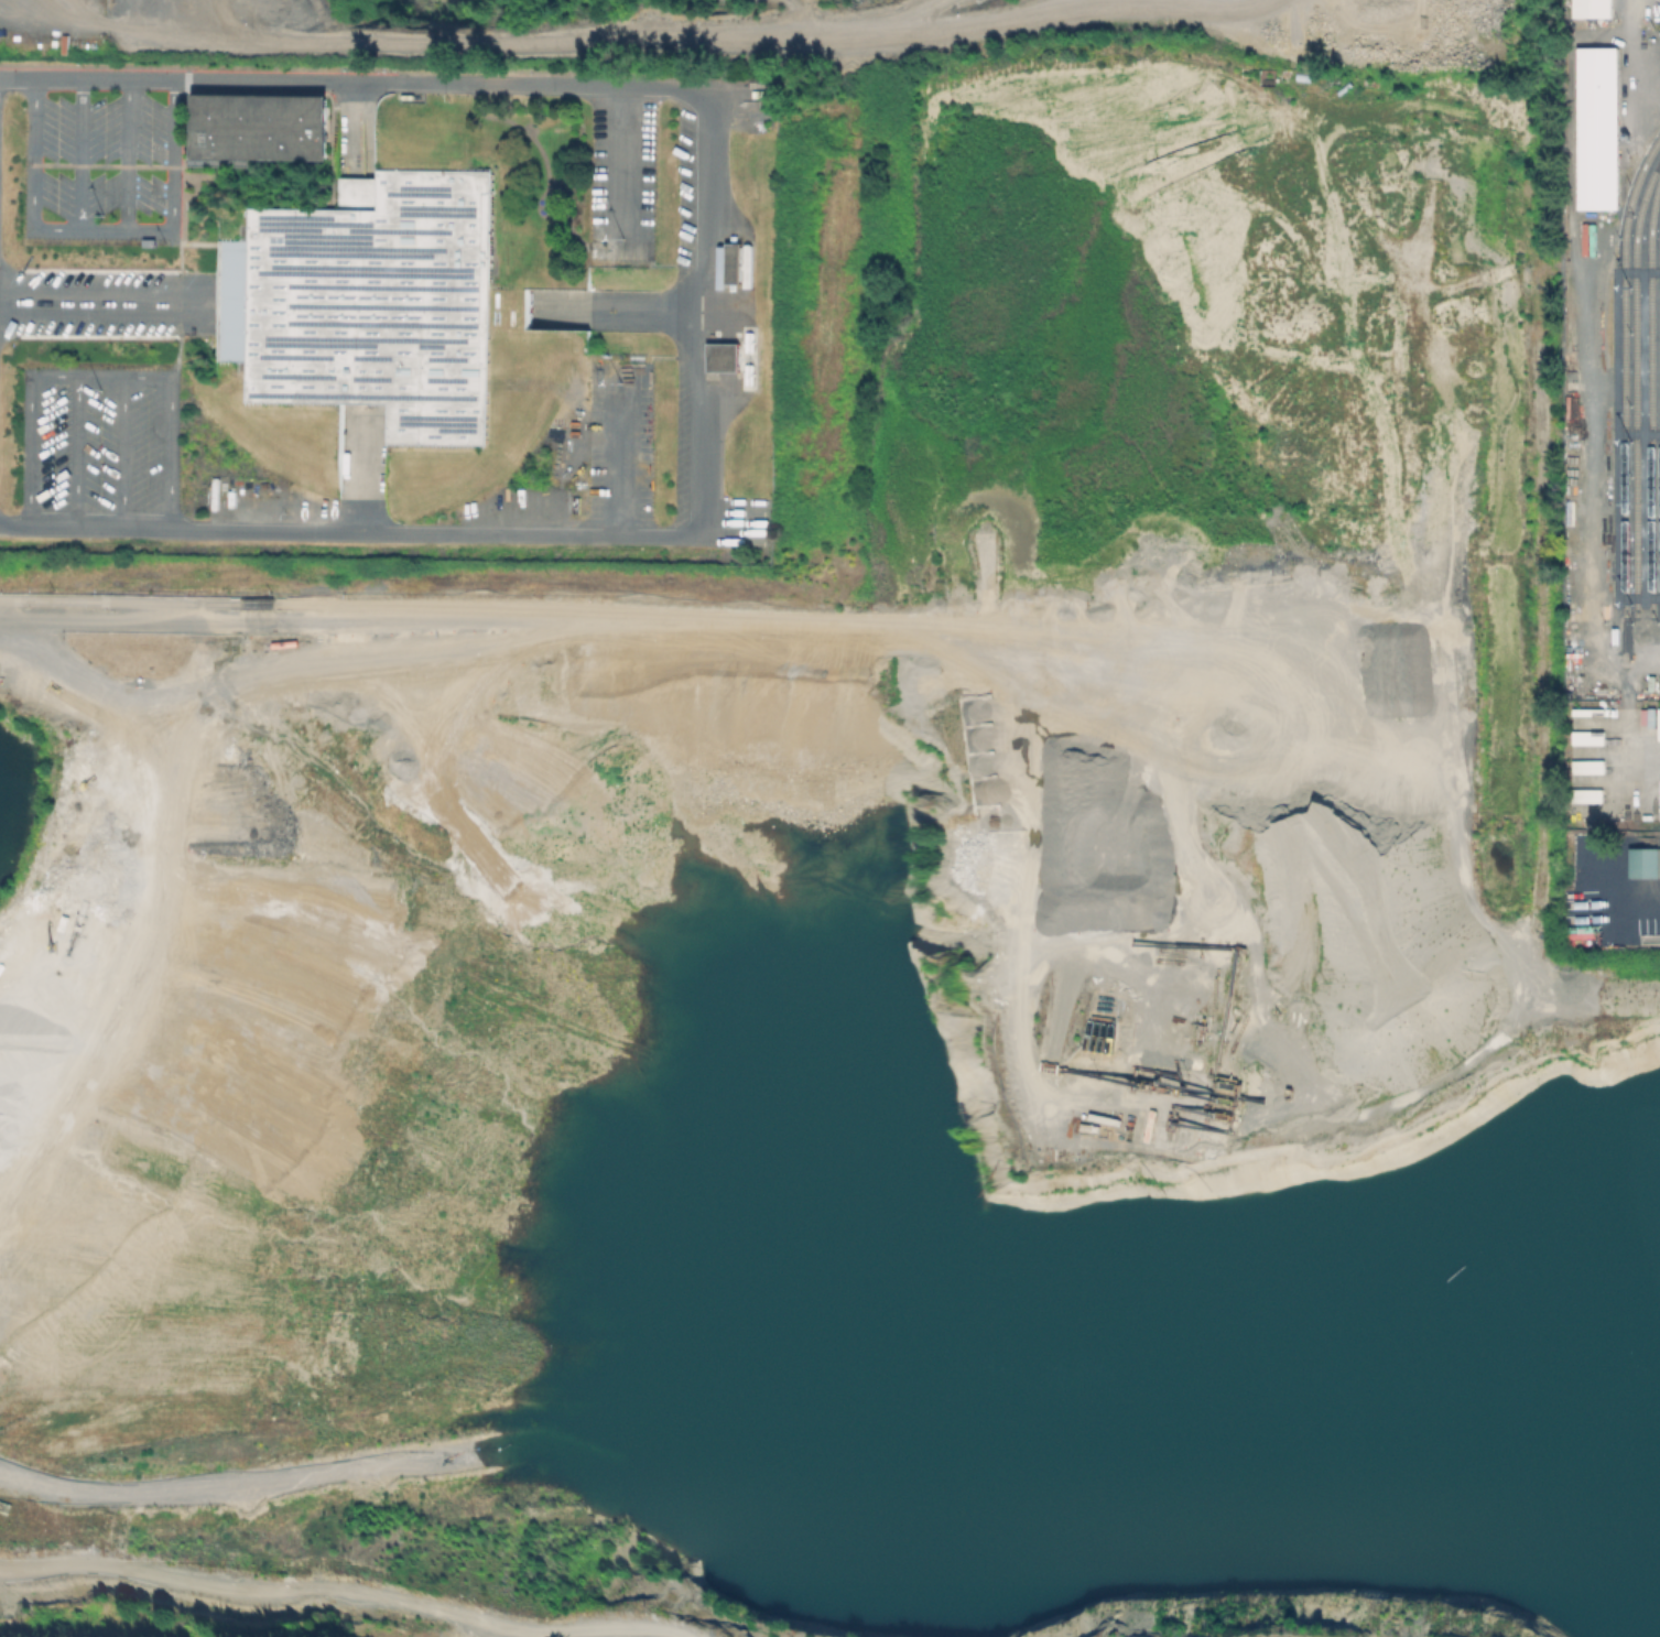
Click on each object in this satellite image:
building: (1590, 8)
road: (437, 82)
road: (1659, 102)
building: (258, 124)
road: (355, 126)
building: (1595, 126)
road: (80, 153)
road: (127, 154)
road: (619, 156)
rooftop solar panel: (422, 192)
rooftop solar panel: (433, 212)
rooftop solar panel: (289, 225)
road: (101, 229)
rooftop solar panel: (408, 232)
rooftop solar panel: (326, 237)
rooftop solar panel: (326, 243)
rooftop solar panel: (348, 249)
railway: (1659, 252)
rooftop solar panel: (348, 254)
building: (730, 262)
rooftop solar panel: (370, 269)
road: (1637, 271)
rooftop solar panel: (367, 274)
rooftop solar panel: (377, 288)
building: (366, 301)
road: (194, 305)
rooftop solar panel: (377, 308)
rooftop solar panel: (377, 325)
rooftop solar panel: (366, 339)
rooftop solar panel: (319, 346)
rooftop solar panel: (432, 346)
rooftop solar panel: (295, 357)
rooftop solar panel: (373, 357)
building: (720, 357)
rooftop solar panel: (447, 359)
road: (98, 377)
rooftop solar panel: (297, 377)
rooftop solar panel: (371, 377)
rooftop solar panel: (448, 379)
rooftop solar panel: (357, 394)
rooftop solar panel: (440, 416)
rooftop solar panel: (440, 422)
rooftop solar panel: (457, 429)
road: (1616, 433)
road: (1638, 433)
railway: (1623, 443)
railway: (1634, 456)
railway: (1650, 465)
road: (359, 471)
road: (417, 529)
road: (1638, 597)
building: (1646, 864)
road: (1455, 893)
road: (1638, 898)
quarry: (868, 912)
road: (1449, 1101)
road: (1328, 1617)

